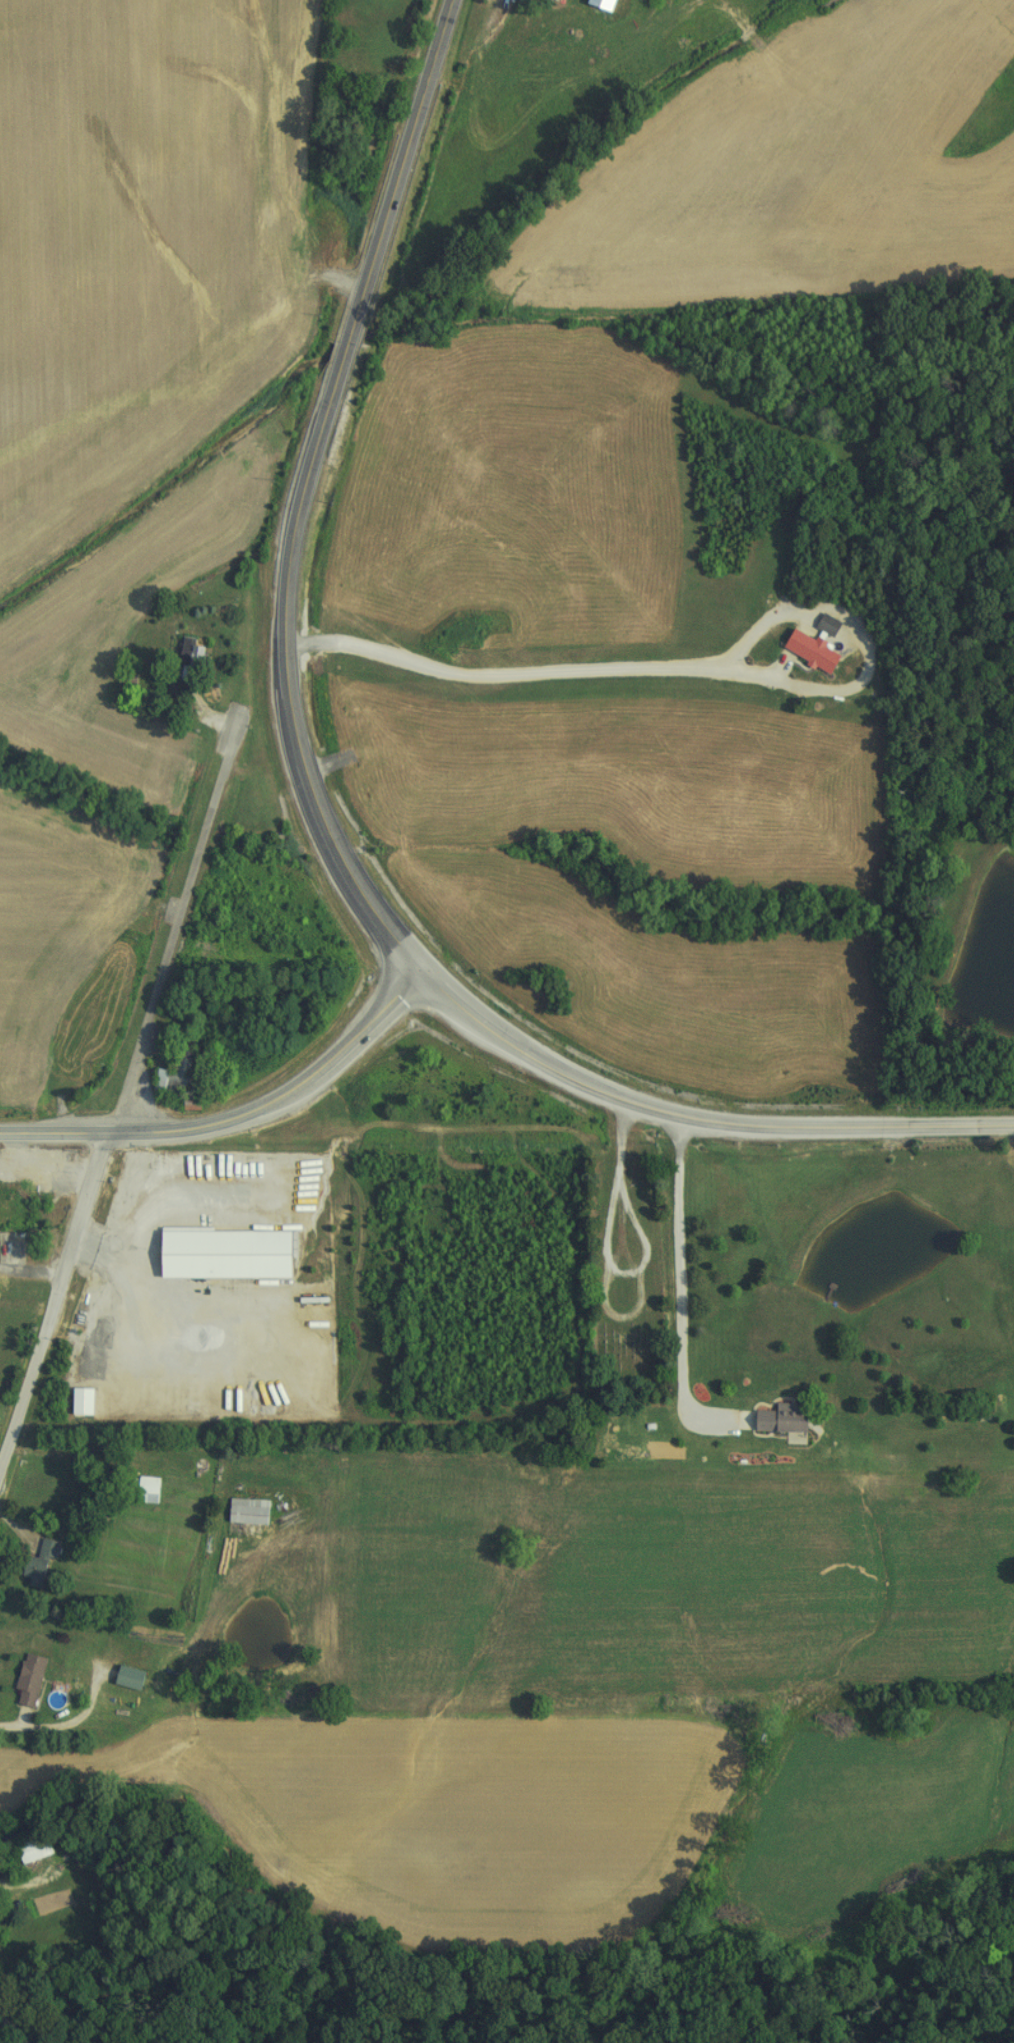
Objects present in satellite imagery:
building: (590, 5)
road: (308, 490)
building: (822, 625)
building: (803, 651)
building: (190, 660)
road: (533, 673)
road: (179, 919)
building: (172, 1079)
road: (235, 1111)
road: (695, 1120)
building: (47, 1166)
road: (621, 1169)
road: (144, 1210)
park: (639, 1232)
building: (228, 1254)
road: (31, 1262)
road: (679, 1278)
road: (53, 1293)
road: (600, 1295)
building: (81, 1400)
building: (771, 1419)
building: (147, 1488)
building: (246, 1513)
building: (37, 1564)
building: (131, 1678)
building: (29, 1680)
road: (38, 1734)
road: (22, 2025)

